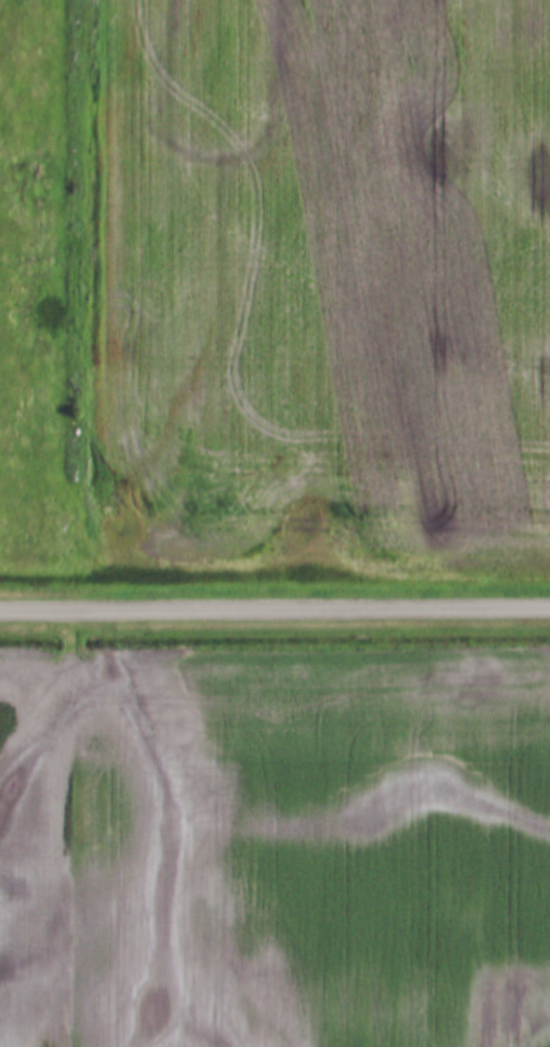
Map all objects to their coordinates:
road: (274, 608)

